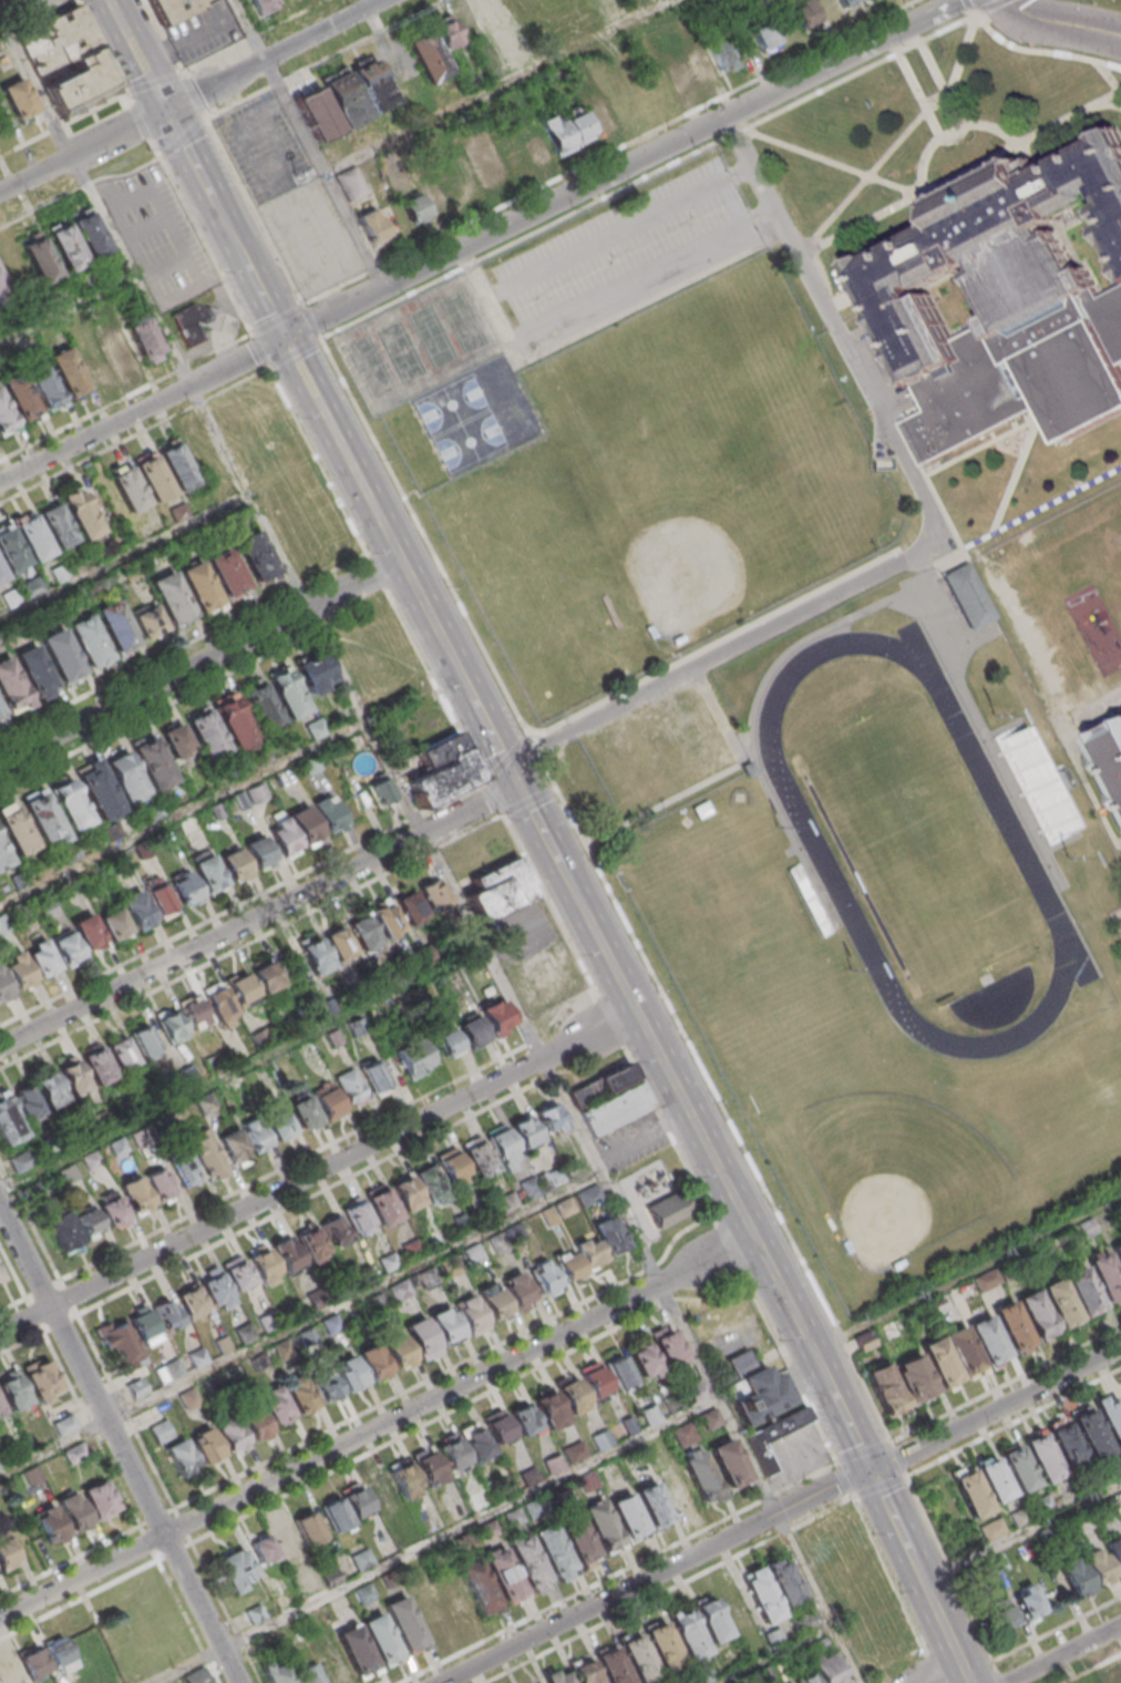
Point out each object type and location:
building: (849, 4)
building: (264, 6)
road: (969, 6)
park: (28, 7)
road: (994, 7)
building: (175, 9)
building: (492, 9)
building: (803, 12)
building: (471, 19)
road: (1056, 23)
building: (446, 31)
building: (763, 34)
road: (164, 37)
road: (6, 40)
building: (58, 40)
road: (105, 52)
road: (1040, 52)
building: (721, 53)
road: (137, 54)
building: (426, 55)
road: (322, 58)
building: (691, 70)
road: (858, 71)
road: (928, 72)
road: (181, 73)
road: (184, 75)
road: (1102, 78)
road: (155, 82)
building: (82, 83)
road: (498, 86)
road: (193, 94)
road: (915, 95)
road: (191, 96)
building: (19, 98)
road: (1102, 106)
traffic signals: (166, 109)
road: (203, 114)
building: (318, 116)
road: (204, 119)
road: (64, 121)
road: (140, 121)
building: (572, 127)
road: (948, 132)
road: (651, 134)
road: (183, 136)
road: (733, 136)
road: (898, 141)
road: (309, 143)
building: (485, 157)
road: (831, 163)
road: (963, 172)
road: (81, 186)
parking lot: (289, 196)
building: (424, 203)
road: (255, 213)
road: (226, 223)
building: (372, 225)
road: (621, 233)
building: (89, 234)
road: (200, 235)
road: (522, 240)
road: (481, 244)
building: (65, 247)
parking lot: (627, 256)
building: (40, 259)
road: (377, 271)
road: (644, 277)
building: (2, 289)
road: (336, 290)
road: (488, 297)
building: (1006, 304)
road: (68, 308)
building: (194, 320)
road: (278, 321)
road: (313, 322)
building: (144, 338)
traffic signals: (286, 338)
building: (120, 346)
road: (223, 350)
road: (297, 353)
building: (92, 361)
building: (68, 371)
road: (183, 371)
park: (442, 374)
building: (43, 383)
building: (20, 396)
building: (6, 418)
road: (88, 419)
road: (137, 437)
building: (178, 470)
building: (154, 481)
road: (363, 486)
building: (130, 492)
road: (1042, 510)
building: (81, 512)
building: (56, 524)
road: (424, 535)
building: (33, 537)
road: (928, 541)
building: (11, 550)
road: (125, 558)
building: (256, 558)
park: (692, 560)
building: (1, 573)
building: (227, 573)
building: (35, 587)
building: (200, 588)
building: (966, 597)
building: (11, 599)
building: (172, 599)
building: (148, 620)
building: (116, 626)
building: (90, 643)
building: (0, 644)
building: (62, 657)
road: (200, 663)
road: (150, 665)
building: (34, 673)
building: (316, 674)
building: (10, 687)
building: (288, 694)
road: (1109, 696)
building: (263, 707)
road: (480, 710)
road: (153, 714)
building: (0, 715)
building: (0, 718)
building: (234, 721)
building: (315, 728)
building: (207, 735)
building: (176, 741)
building: (1111, 751)
building: (153, 762)
building: (442, 770)
building: (125, 777)
building: (1038, 783)
traffic signals: (518, 784)
building: (99, 790)
building: (259, 791)
building: (379, 791)
building: (70, 804)
building: (327, 812)
road: (183, 813)
building: (44, 817)
building: (305, 828)
building: (17, 829)
building: (282, 837)
park: (922, 844)
road: (431, 848)
track: (1022, 851)
building: (258, 852)
building: (3, 855)
road: (556, 859)
building: (236, 868)
building: (208, 872)
building: (187, 891)
building: (502, 892)
building: (433, 895)
building: (160, 896)
road: (549, 903)
building: (410, 909)
building: (138, 914)
road: (1120, 914)
road: (259, 916)
building: (388, 919)
building: (114, 925)
building: (362, 931)
building: (89, 935)
road: (251, 943)
building: (340, 943)
building: (66, 948)
building: (316, 955)
building: (42, 957)
building: (19, 973)
building: (266, 977)
building: (241, 987)
building: (3, 988)
building: (219, 1004)
building: (194, 1013)
road: (558, 1015)
building: (496, 1016)
building: (172, 1028)
building: (472, 1030)
building: (144, 1041)
building: (448, 1043)
building: (121, 1053)
building: (411, 1058)
building: (97, 1065)
road: (243, 1069)
building: (373, 1075)
building: (73, 1077)
building: (349, 1084)
road: (678, 1085)
road: (711, 1088)
building: (50, 1089)
building: (328, 1101)
building: (609, 1101)
building: (27, 1104)
building: (302, 1110)
building: (549, 1117)
building: (9, 1120)
building: (280, 1127)
building: (524, 1131)
building: (255, 1135)
building: (234, 1147)
building: (502, 1148)
building: (207, 1155)
building: (477, 1159)
road: (294, 1162)
building: (451, 1164)
building: (185, 1168)
park: (897, 1170)
road: (319, 1171)
building: (160, 1183)
building: (430, 1183)
building: (405, 1193)
building: (588, 1194)
building: (135, 1195)
road: (311, 1198)
building: (506, 1202)
building: (382, 1205)
building: (113, 1210)
building: (665, 1210)
building: (557, 1211)
building: (357, 1214)
building: (89, 1222)
building: (1083, 1230)
building: (336, 1231)
building: (63, 1232)
building: (609, 1234)
building: (310, 1240)
building: (411, 1249)
building: (589, 1252)
building: (1117, 1252)
building: (286, 1253)
building: (473, 1255)
building: (388, 1263)
building: (567, 1264)
building: (263, 1265)
building: (238, 1274)
road: (967, 1274)
building: (1104, 1275)
building: (1, 1276)
building: (544, 1276)
road: (61, 1281)
road: (20, 1284)
building: (214, 1287)
building: (1081, 1290)
building: (401, 1291)
building: (518, 1293)
road: (356, 1295)
building: (189, 1300)
building: (1059, 1301)
building: (493, 1302)
building: (166, 1312)
building: (1036, 1313)
building: (470, 1316)
building: (331, 1325)
building: (1010, 1325)
building: (144, 1327)
building: (445, 1328)
building: (986, 1338)
building: (421, 1340)
building: (120, 1343)
road: (22, 1344)
building: (398, 1353)
road: (815, 1354)
building: (952, 1356)
building: (645, 1363)
building: (373, 1365)
building: (618, 1373)
building: (42, 1377)
building: (350, 1377)
building: (898, 1383)
building: (325, 1386)
building: (583, 1388)
building: (697, 1389)
building: (12, 1390)
building: (753, 1390)
building: (300, 1397)
road: (397, 1397)
building: (276, 1405)
building: (548, 1408)
building: (1, 1412)
building: (1111, 1418)
building: (524, 1419)
road: (431, 1423)
road: (1015, 1423)
building: (64, 1424)
building: (254, 1424)
road: (378, 1427)
building: (497, 1427)
road: (135, 1429)
building: (160, 1430)
building: (229, 1433)
building: (1091, 1433)
building: (683, 1435)
building: (775, 1440)
road: (120, 1441)
building: (475, 1441)
building: (205, 1446)
building: (1067, 1446)
road: (54, 1447)
building: (74, 1453)
road: (864, 1454)
building: (451, 1455)
building: (179, 1457)
building: (1042, 1457)
road: (901, 1459)
building: (0, 1460)
building: (728, 1463)
building: (428, 1466)
building: (1018, 1467)
traffic signals: (874, 1470)
building: (699, 1474)
building: (31, 1475)
building: (402, 1479)
road: (844, 1479)
building: (994, 1479)
road: (881, 1488)
building: (379, 1490)
building: (677, 1492)
building: (971, 1494)
building: (650, 1500)
building: (99, 1505)
building: (343, 1508)
building: (72, 1513)
building: (626, 1515)
road: (782, 1515)
building: (599, 1525)
building: (49, 1528)
building: (308, 1528)
road: (1021, 1531)
road: (435, 1541)
building: (274, 1542)
building: (578, 1543)
building: (551, 1548)
building: (1114, 1551)
building: (7, 1556)
road: (158, 1560)
building: (526, 1560)
road: (71, 1562)
building: (1094, 1563)
building: (235, 1568)
road: (918, 1568)
building: (501, 1572)
road: (888, 1574)
road: (954, 1574)
building: (1073, 1574)
building: (476, 1584)
building: (785, 1585)
road: (585, 1590)
road: (669, 1590)
building: (761, 1595)
road: (79, 1601)
building: (1027, 1601)
building: (454, 1602)
building: (429, 1614)
building: (1001, 1614)
building: (710, 1619)
building: (403, 1623)
road: (1058, 1630)
building: (688, 1634)
building: (773, 1636)
building: (379, 1638)
building: (661, 1644)
building: (354, 1649)
building: (55, 1651)
road: (1062, 1653)
road: (775, 1655)
building: (637, 1658)
building: (31, 1660)
building: (329, 1660)
building: (611, 1666)
road: (932, 1667)
road: (1090, 1667)
building: (830, 1669)
building: (584, 1672)
building: (10, 1673)
building: (278, 1674)
building: (309, 1674)
road: (947, 1674)
road: (966, 1675)
building: (558, 1679)
building: (806, 1679)
road: (999, 1679)
building: (1118, 1681)

